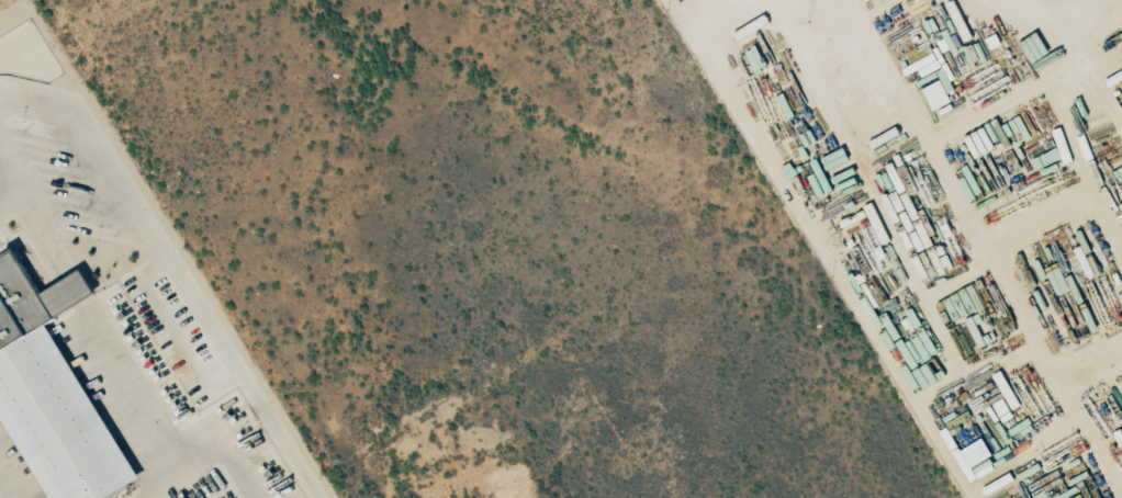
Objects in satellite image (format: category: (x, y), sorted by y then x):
building: (958, 21)
building: (935, 72)
road: (9, 200)
road: (35, 220)
building: (1061, 282)
road: (75, 288)
building: (52, 393)
road: (141, 405)
road: (0, 496)

